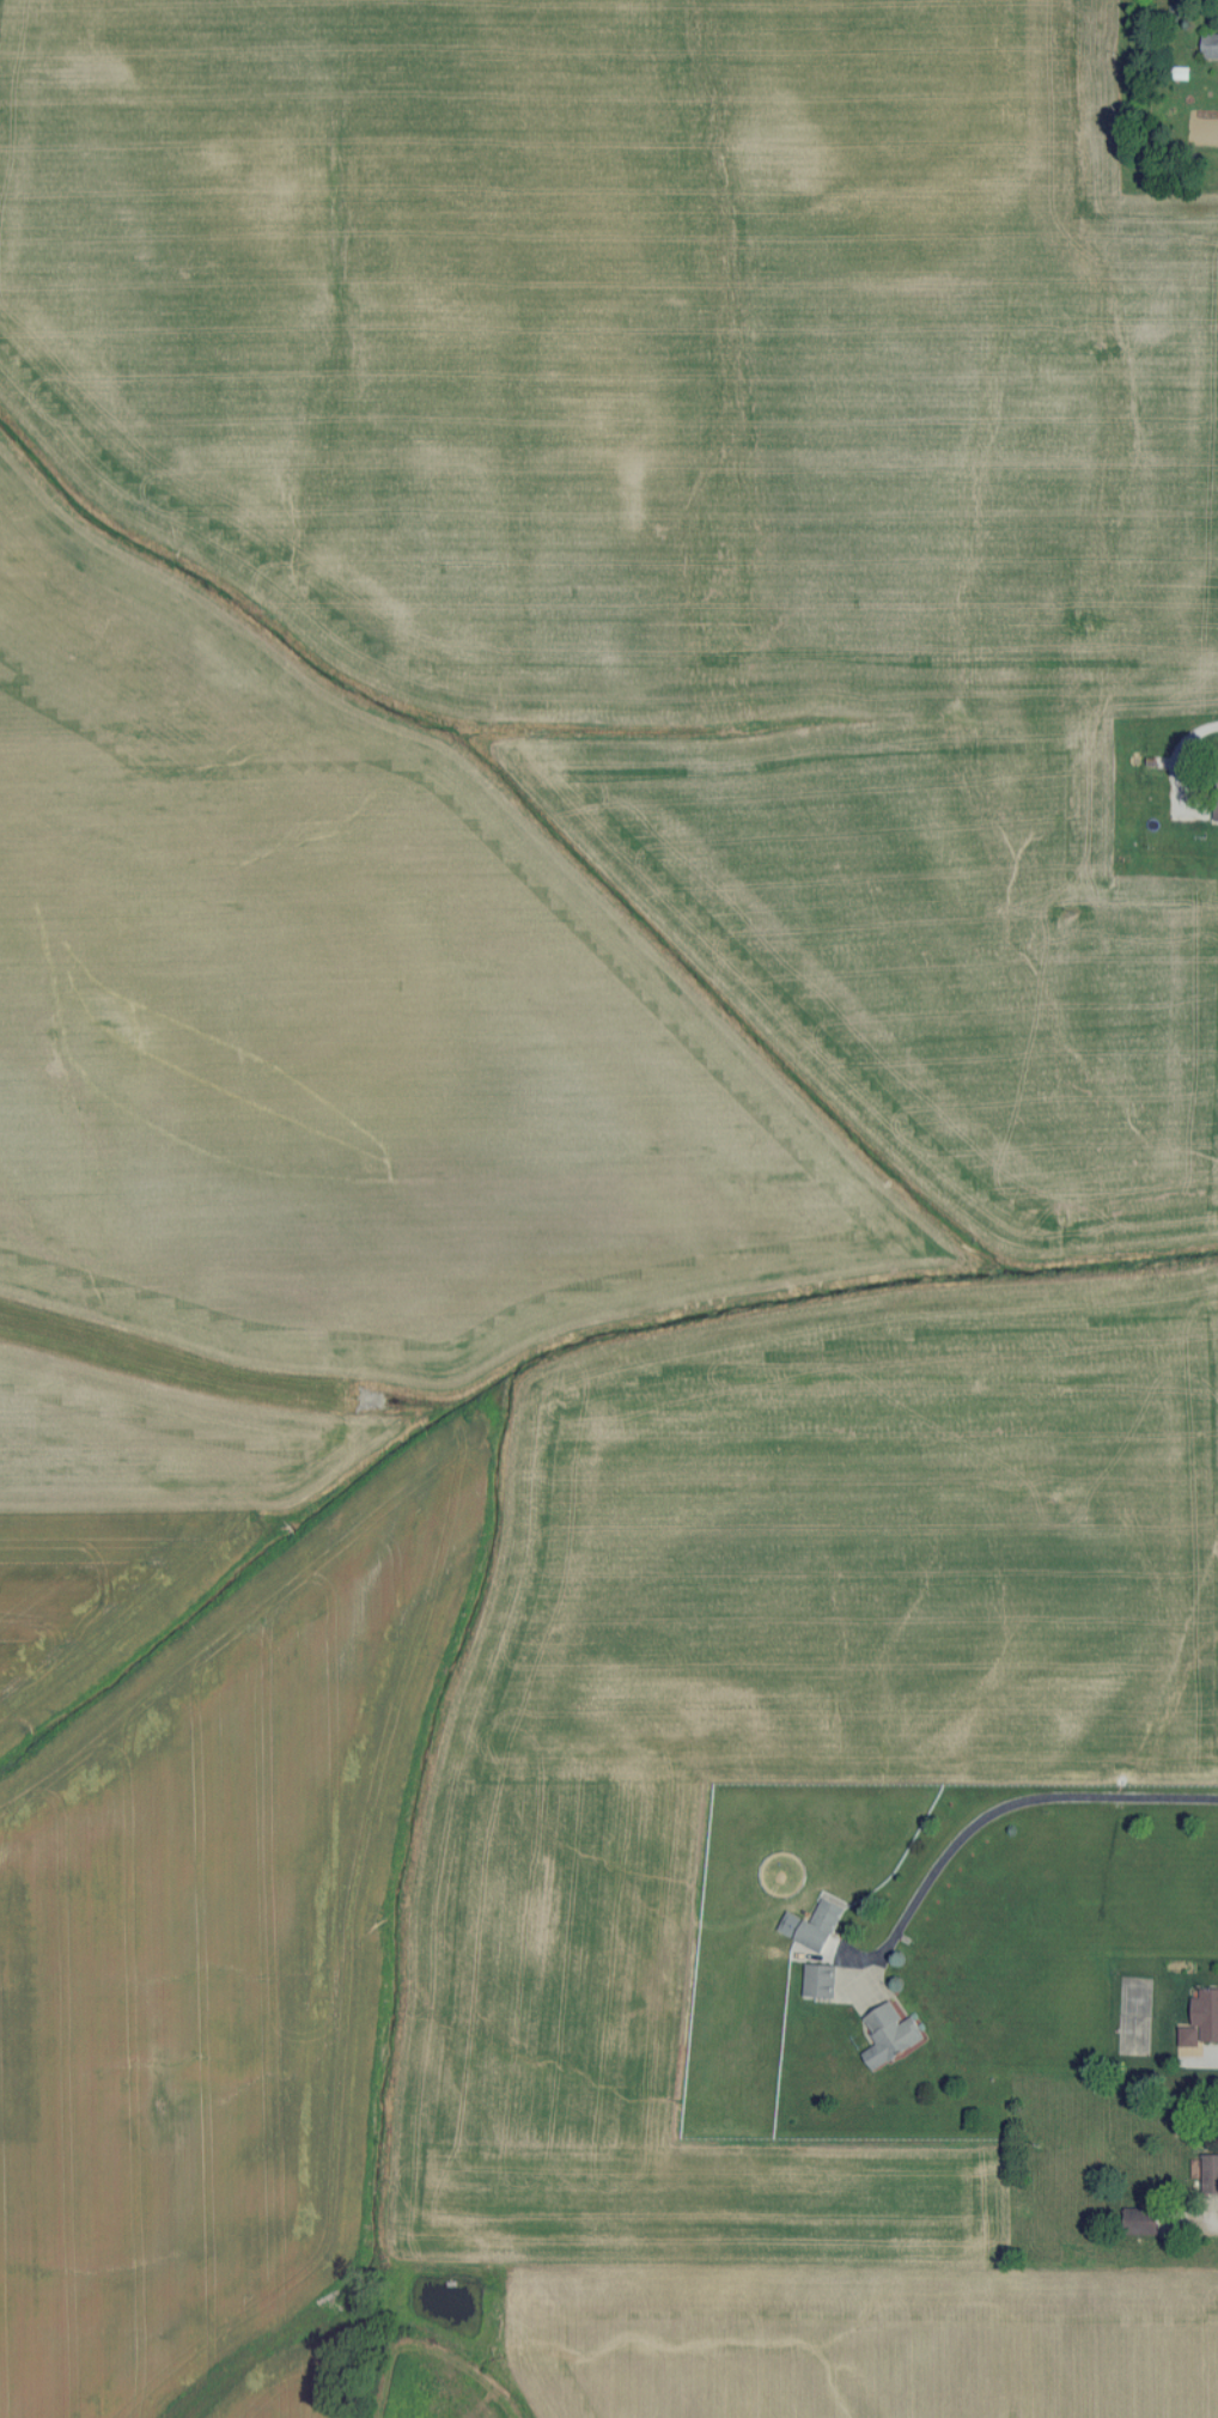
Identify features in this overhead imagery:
building: (1210, 44)
building: (1216, 793)
road: (1012, 1804)
building: (821, 1923)
building: (820, 1981)
building: (1207, 2015)
building: (891, 2035)
building: (1211, 2174)
building: (1141, 2219)

